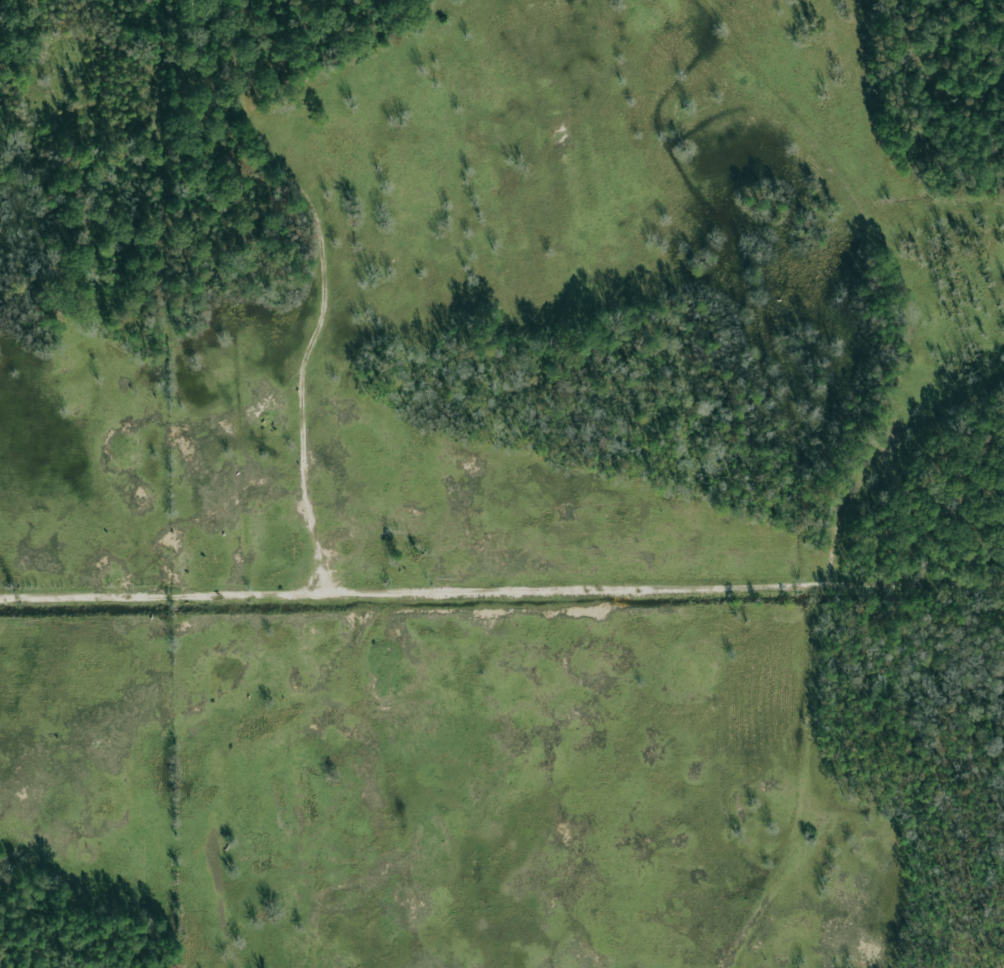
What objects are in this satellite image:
road: (329, 284)
road: (502, 584)

